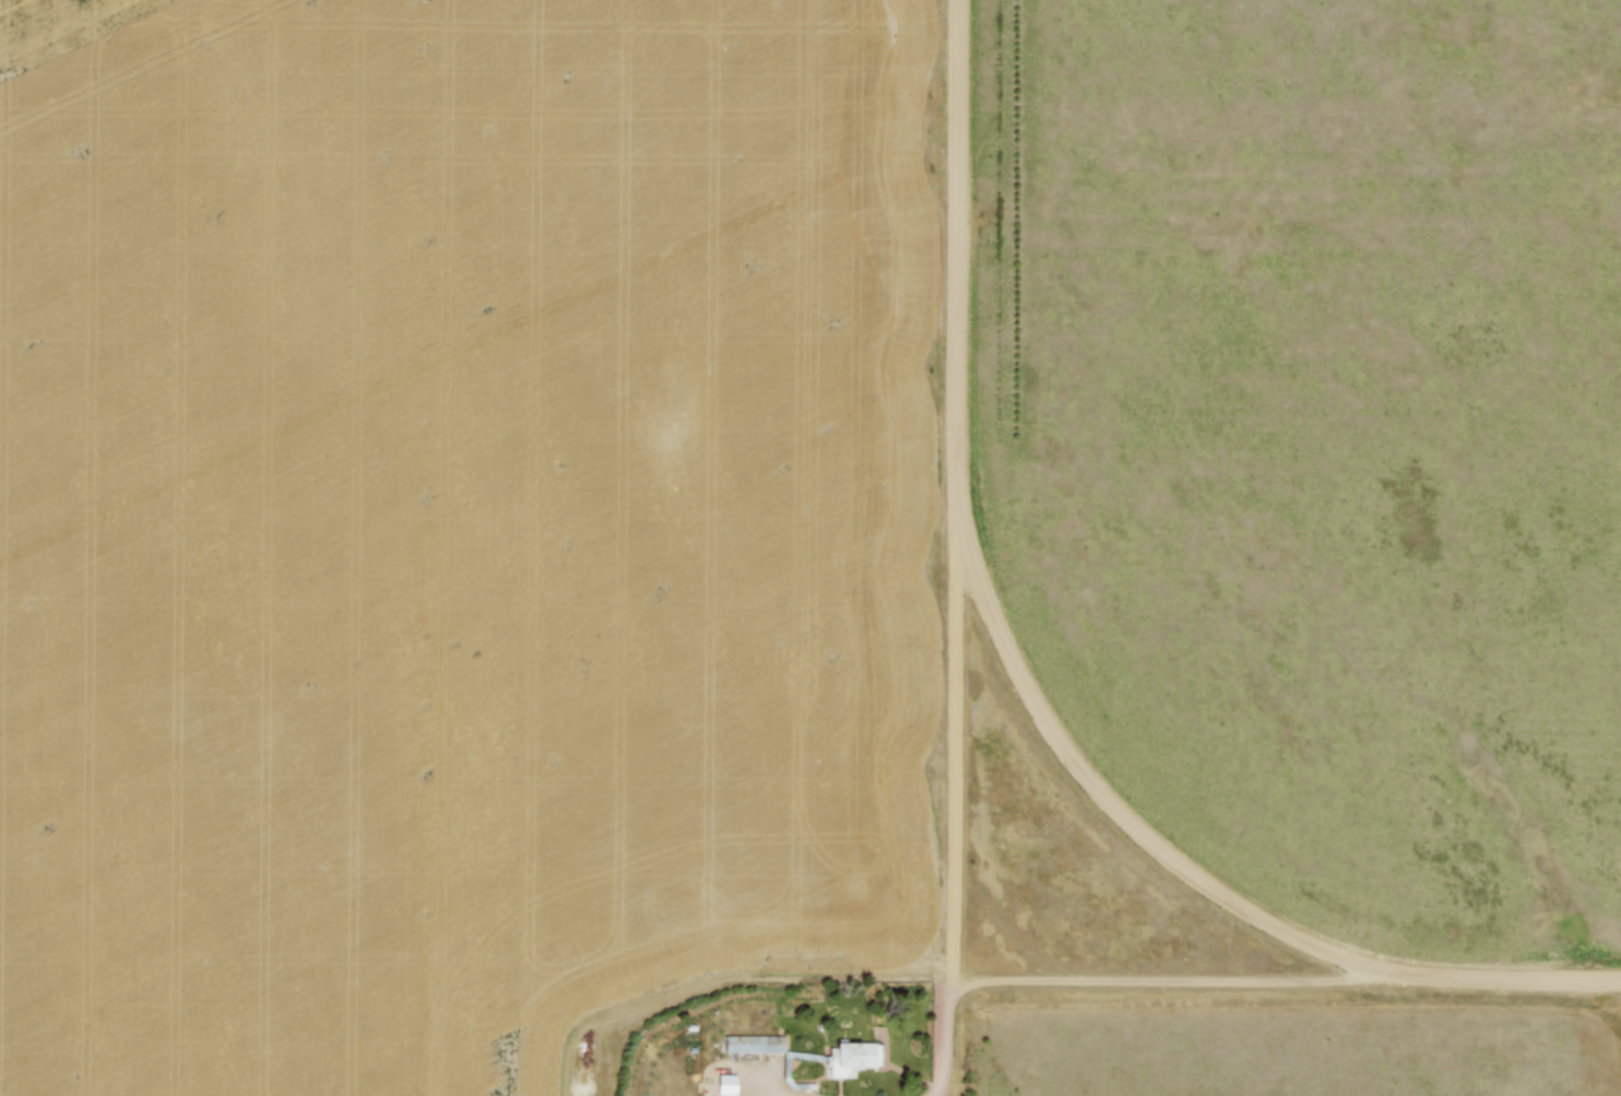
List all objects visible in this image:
crop: (455, 529)
road: (1028, 688)
road: (954, 815)
road: (1198, 979)
building: (756, 1045)
building: (851, 1057)

